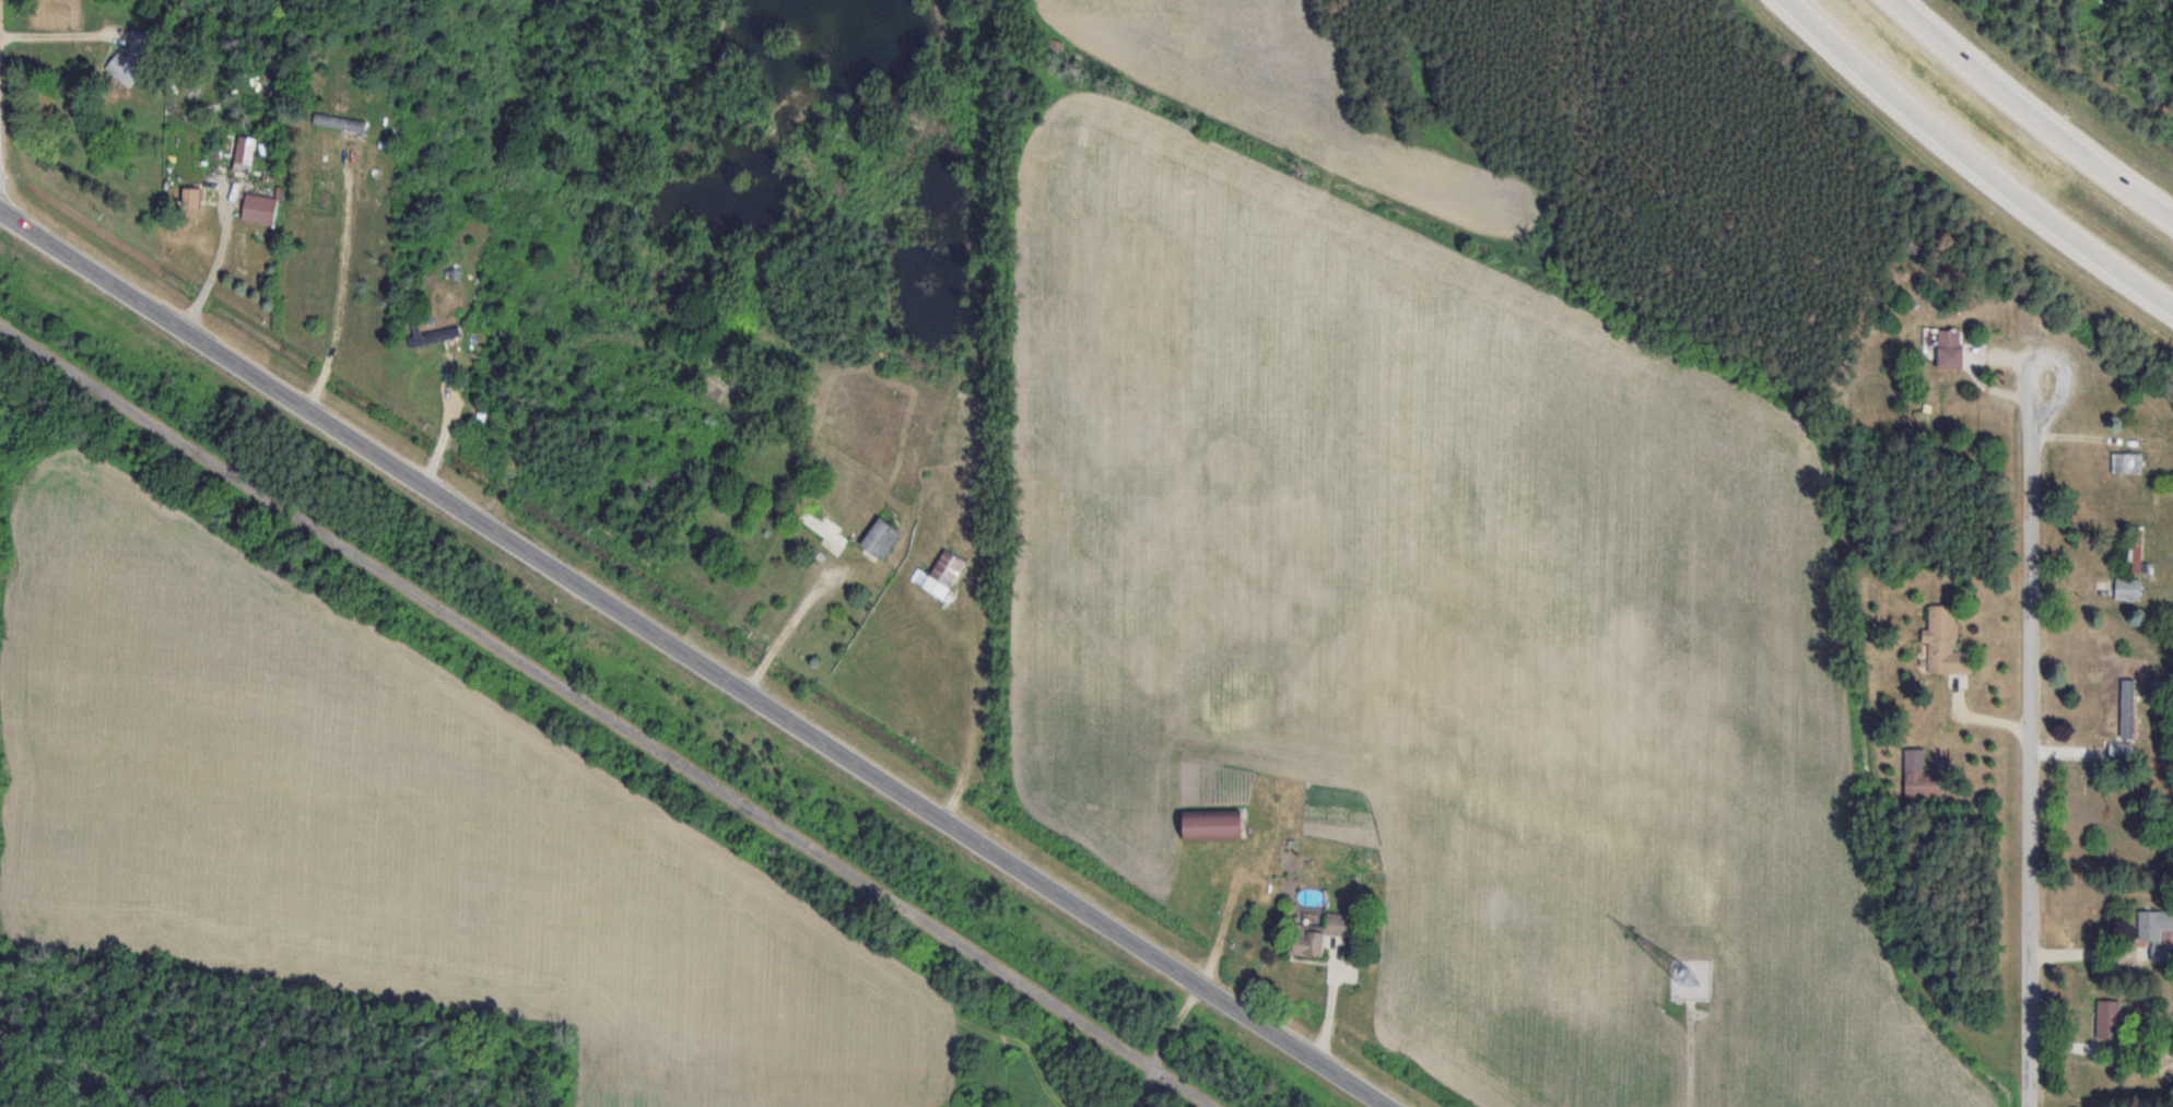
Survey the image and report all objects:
road: (2044, 7)
road: (0, 15)
road: (2030, 113)
building: (338, 122)
building: (245, 151)
road: (1962, 152)
road: (2037, 165)
building: (189, 198)
building: (257, 209)
road: (214, 262)
road: (341, 290)
road: (2160, 298)
building: (431, 335)
building: (1948, 349)
road: (939, 397)
road: (445, 420)
building: (2127, 463)
building: (825, 532)
building: (878, 540)
building: (2134, 549)
building: (938, 576)
building: (2127, 589)
building: (1943, 643)
road: (698, 658)
building: (2126, 715)
road: (606, 716)
road: (2032, 728)
building: (2119, 753)
building: (1918, 777)
building: (1208, 825)
building: (2154, 926)
building: (1314, 934)
road: (2088, 955)
building: (2107, 1020)

